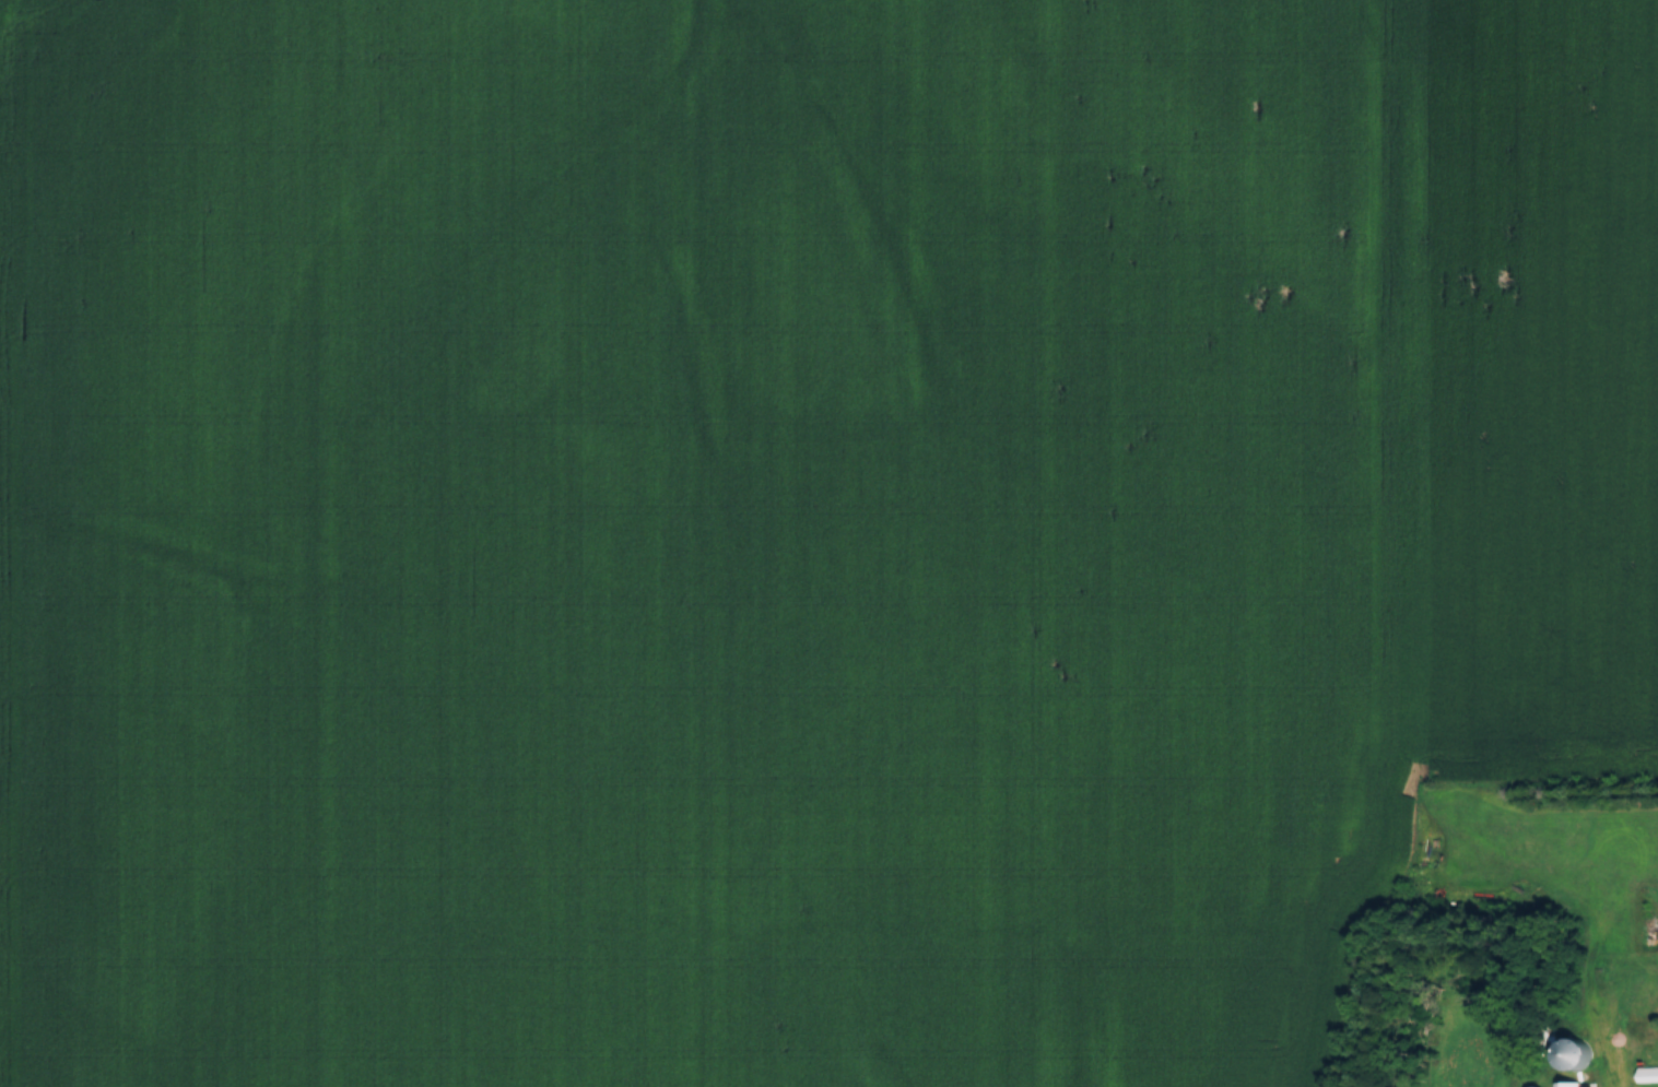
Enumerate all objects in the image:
building: (1572, 1050)
building: (1647, 1070)
building: (1567, 1082)
building: (1536, 1085)
building: (1591, 1086)

